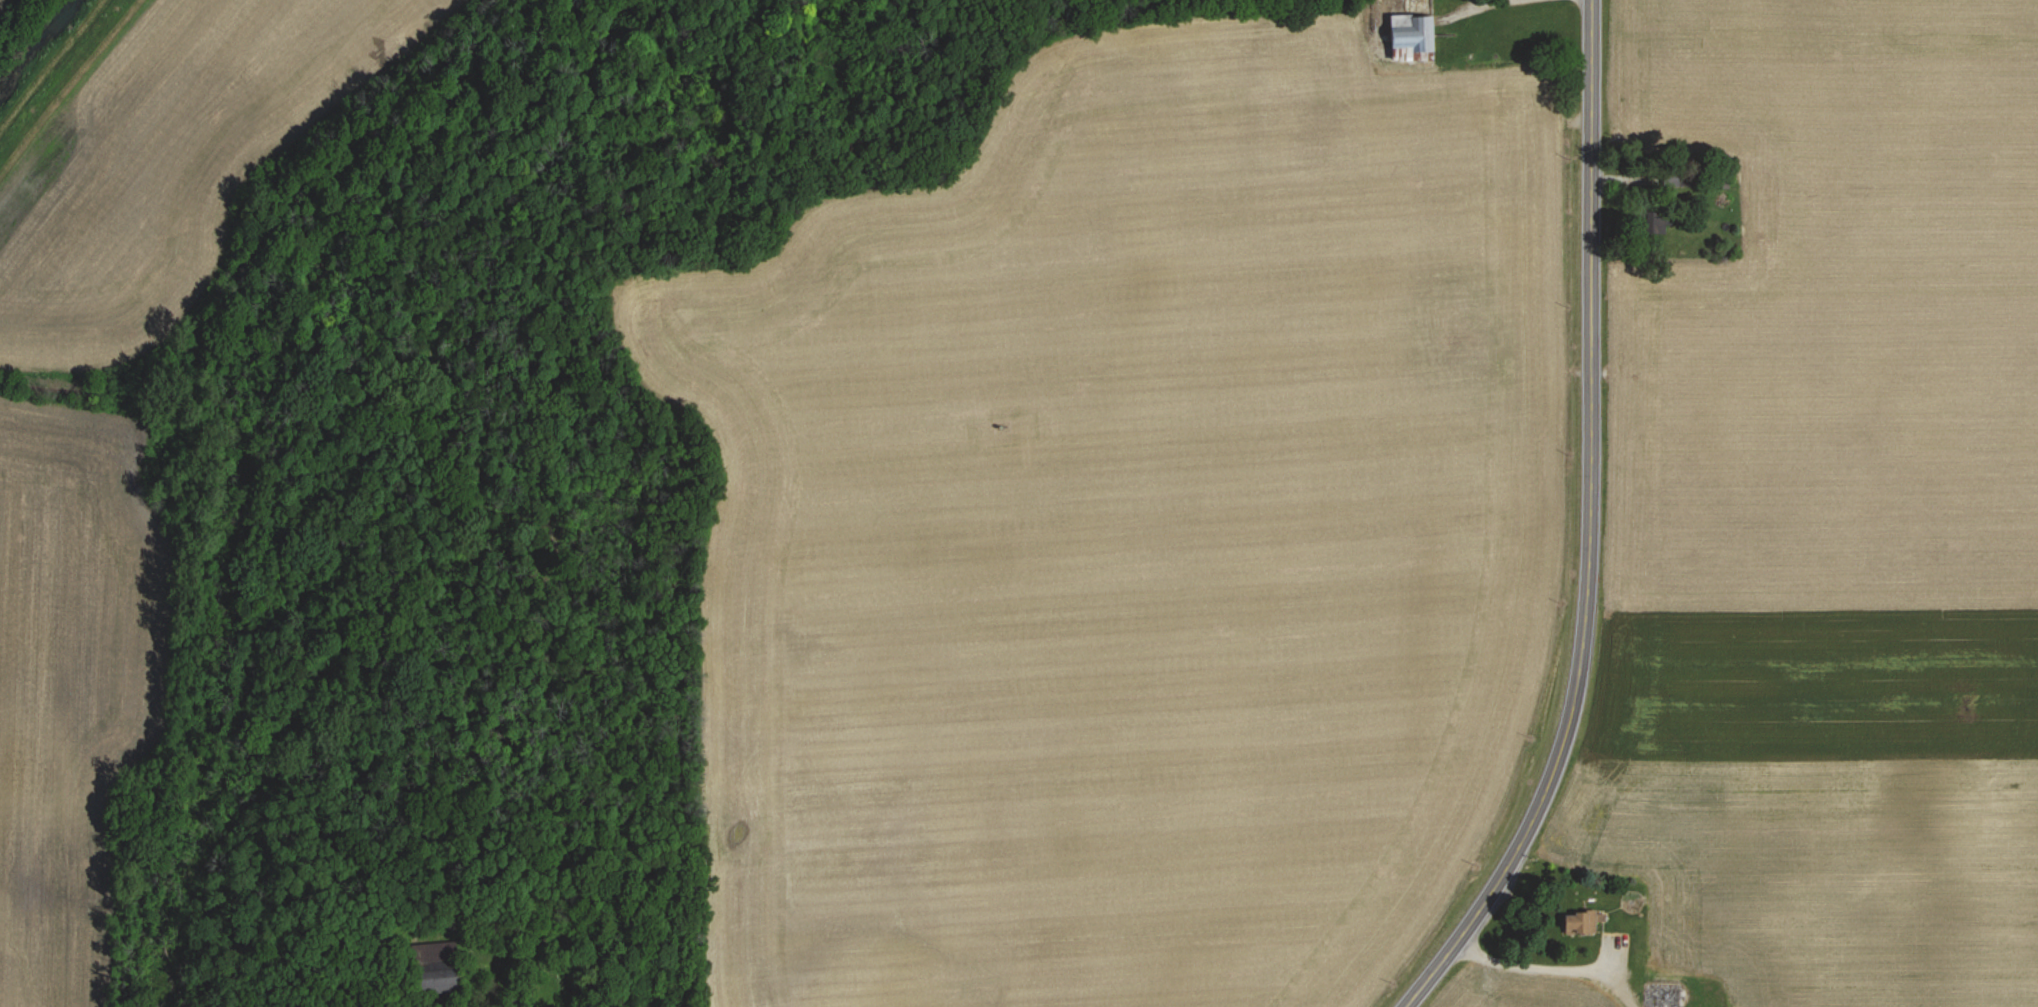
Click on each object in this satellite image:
road: (1458, 7)
building: (1408, 33)
road: (1590, 527)
building: (1574, 923)
road: (534, 964)
road: (1542, 969)
building: (426, 984)

